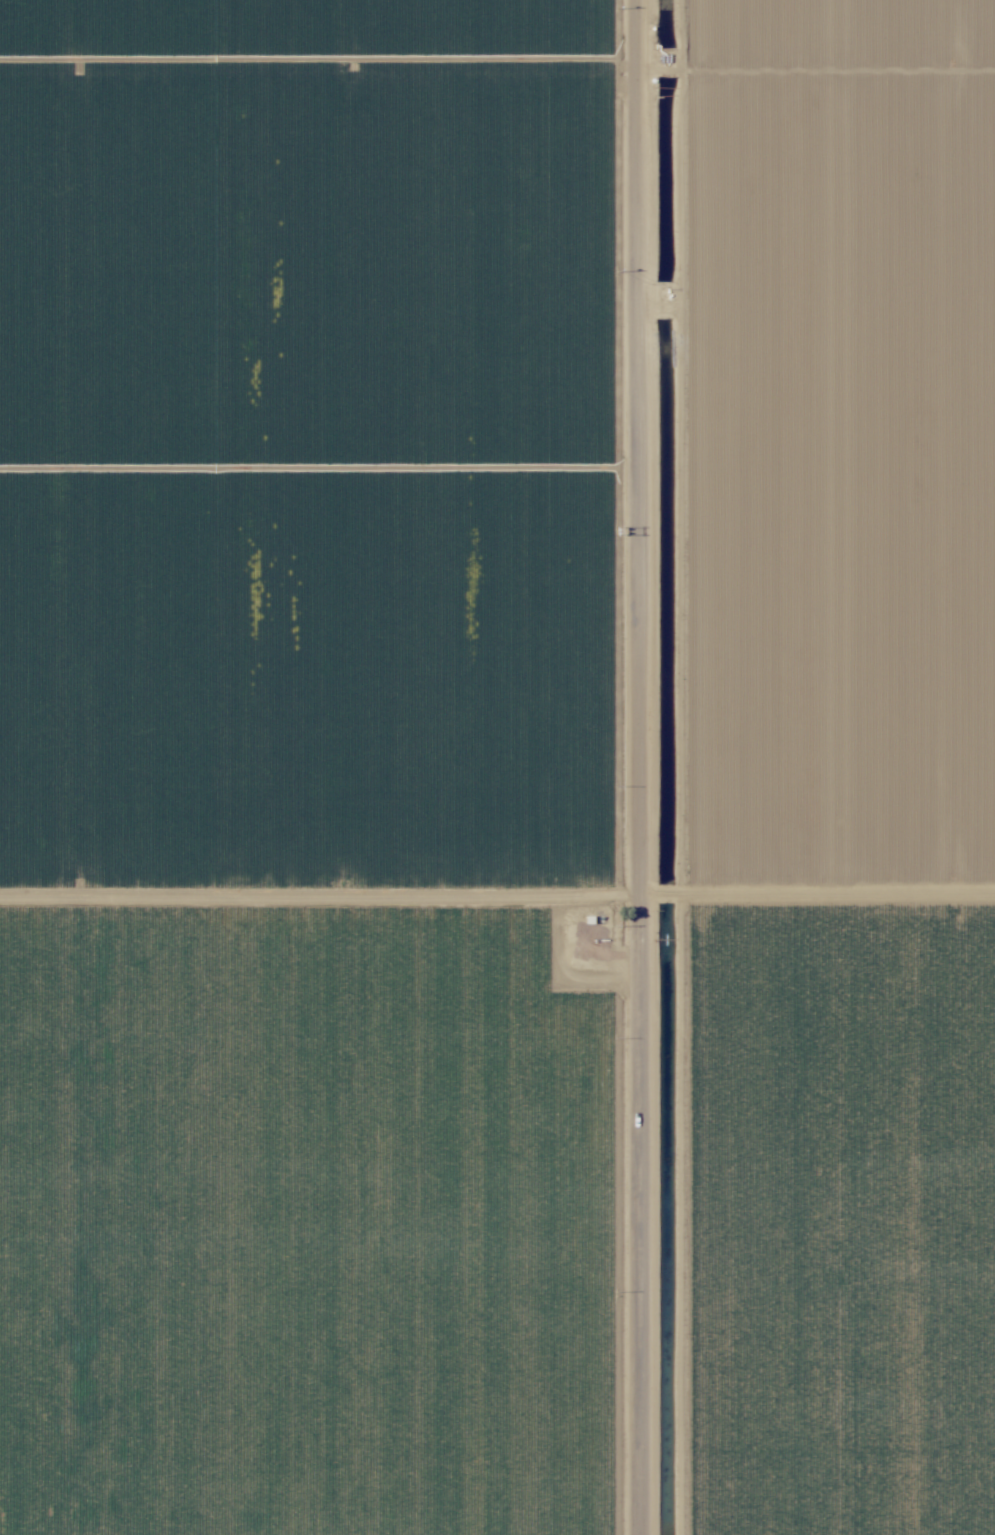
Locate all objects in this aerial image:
crop: (818, 766)
crop: (320, 767)
road: (627, 767)

